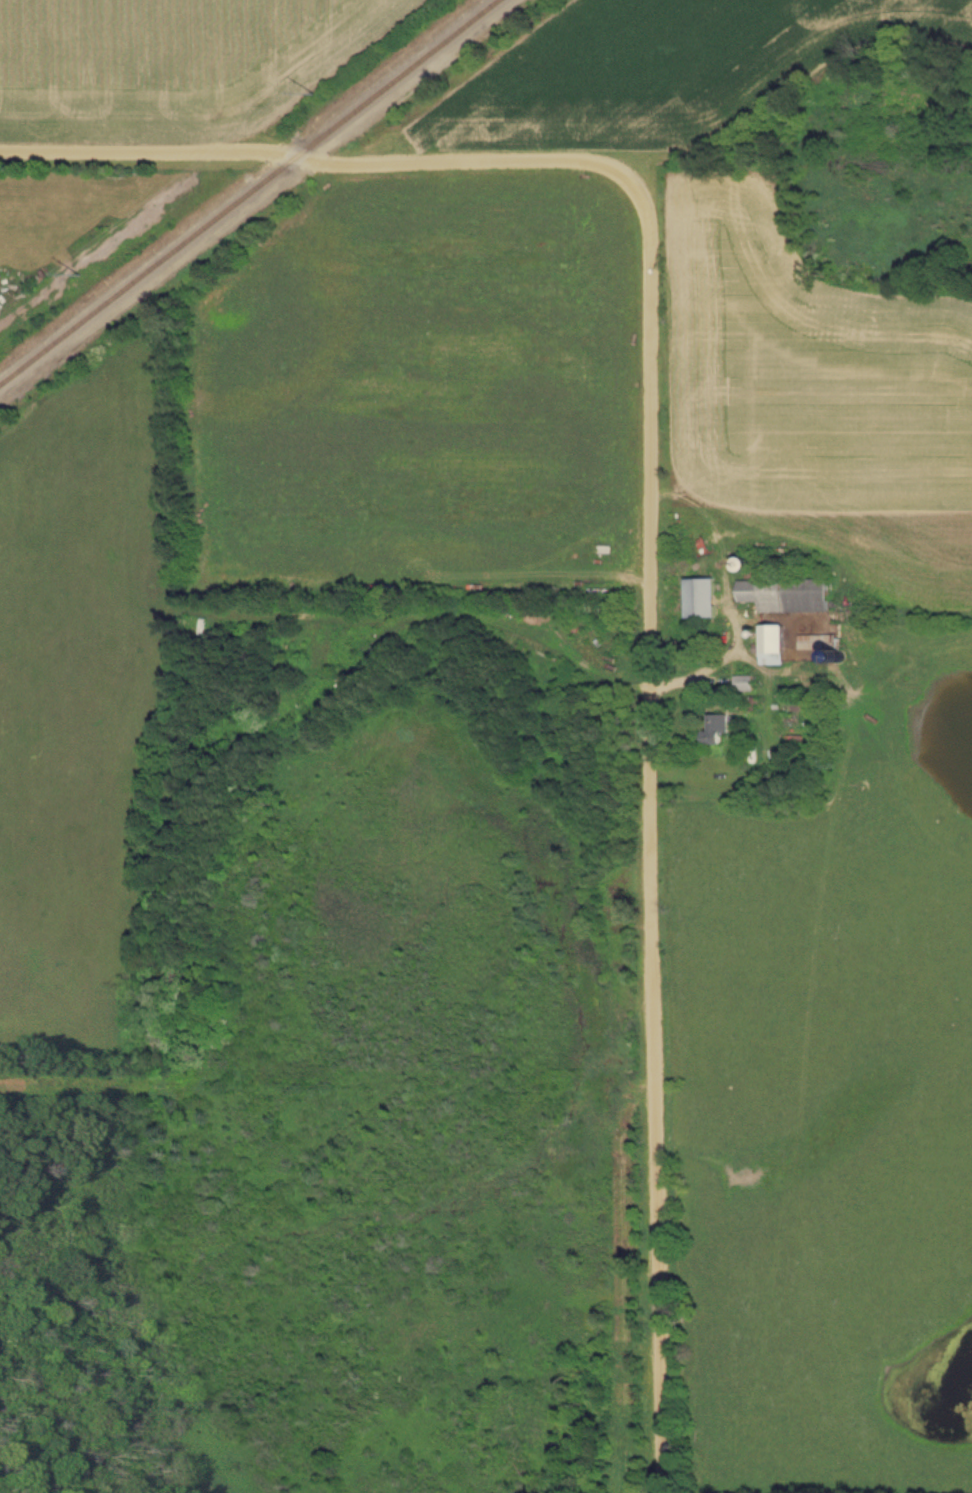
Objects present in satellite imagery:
crop: (174, 63)
crop: (661, 68)
railway: (245, 190)
crop: (820, 404)
road: (651, 513)
building: (785, 596)
building: (699, 599)
building: (772, 646)
building: (744, 685)
building: (715, 729)

